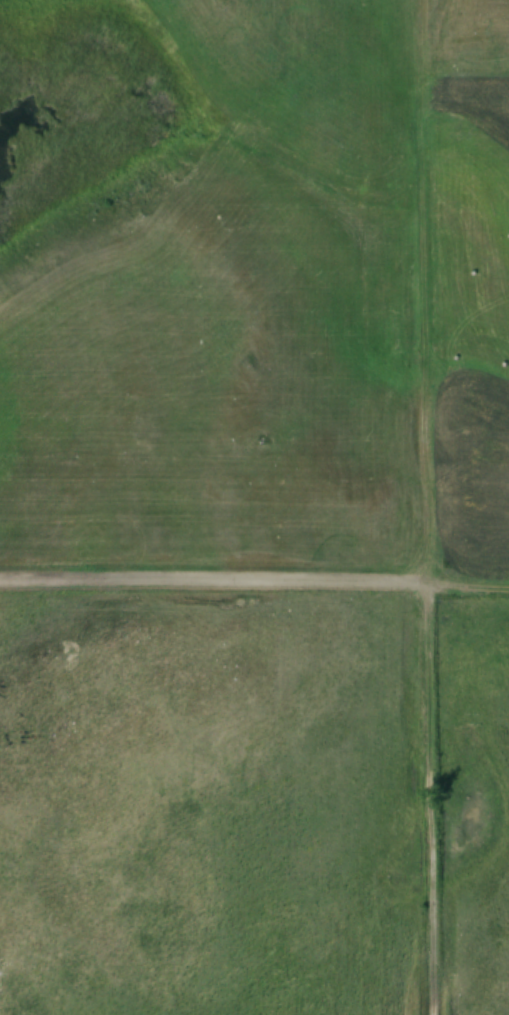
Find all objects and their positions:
road: (437, 507)
road: (216, 579)
road: (471, 582)

